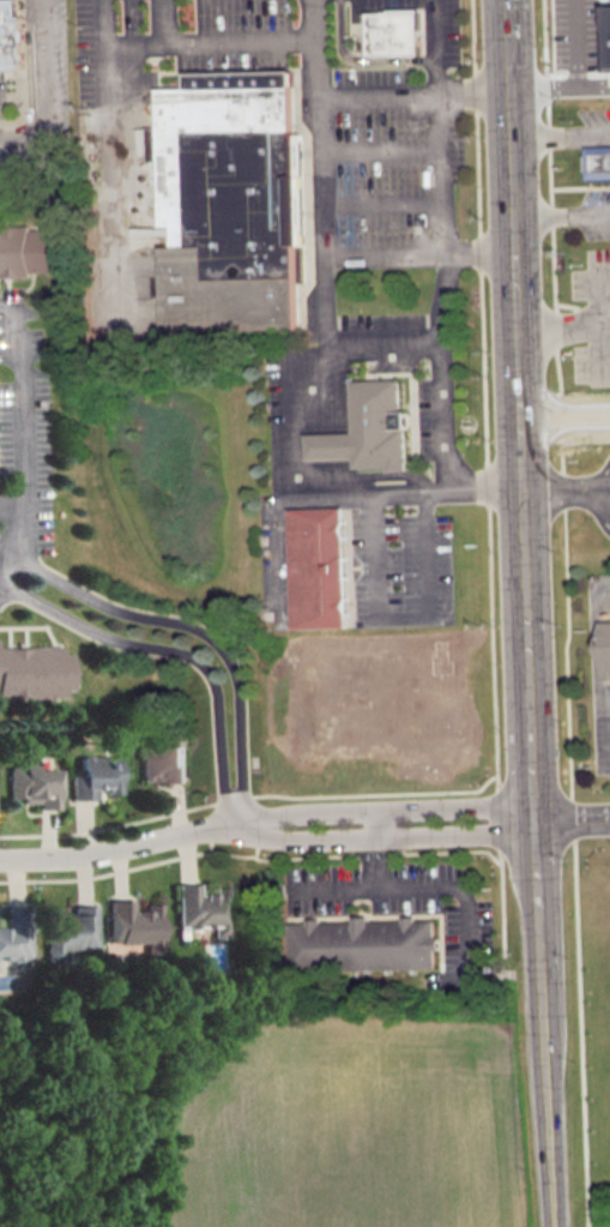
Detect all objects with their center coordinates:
road: (165, 23)
building: (11, 30)
building: (394, 31)
building: (608, 35)
road: (188, 44)
street lamp: (448, 66)
road: (578, 77)
parking lot: (31, 80)
street lamp: (563, 80)
road: (34, 82)
road: (594, 84)
road: (412, 95)
parking lot: (309, 104)
parking lot: (593, 115)
street lamp: (568, 119)
street lamp: (424, 121)
street lamp: (343, 124)
road: (436, 126)
road: (560, 134)
road: (603, 134)
road: (378, 148)
building: (597, 161)
road: (320, 173)
building: (231, 203)
road: (381, 204)
parking lot: (594, 212)
road: (561, 215)
street lamp: (427, 227)
street lamp: (339, 229)
building: (30, 249)
road: (418, 252)
parking lot: (592, 315)
road: (557, 324)
road: (598, 331)
road: (385, 345)
parking lot: (392, 356)
road: (443, 368)
road: (294, 409)
road: (564, 417)
parking lot: (278, 421)
building: (379, 423)
road: (22, 431)
parking lot: (24, 433)
road: (485, 438)
building: (328, 444)
road: (330, 463)
road: (602, 483)
road: (557, 489)
road: (594, 489)
road: (332, 493)
road: (602, 493)
building: (318, 566)
parking lot: (401, 570)
road: (6, 572)
parking lot: (6, 594)
road: (599, 601)
road: (525, 613)
road: (403, 615)
road: (567, 630)
building: (605, 648)
road: (594, 655)
building: (34, 670)
parking lot: (599, 726)
building: (162, 762)
building: (93, 776)
building: (31, 783)
road: (237, 802)
road: (381, 807)
road: (598, 814)
road: (560, 818)
road: (598, 822)
road: (382, 836)
road: (117, 846)
road: (376, 848)
road: (374, 889)
parking lot: (392, 896)
building: (200, 908)
building: (132, 924)
building: (66, 930)
building: (13, 932)
building: (363, 943)

